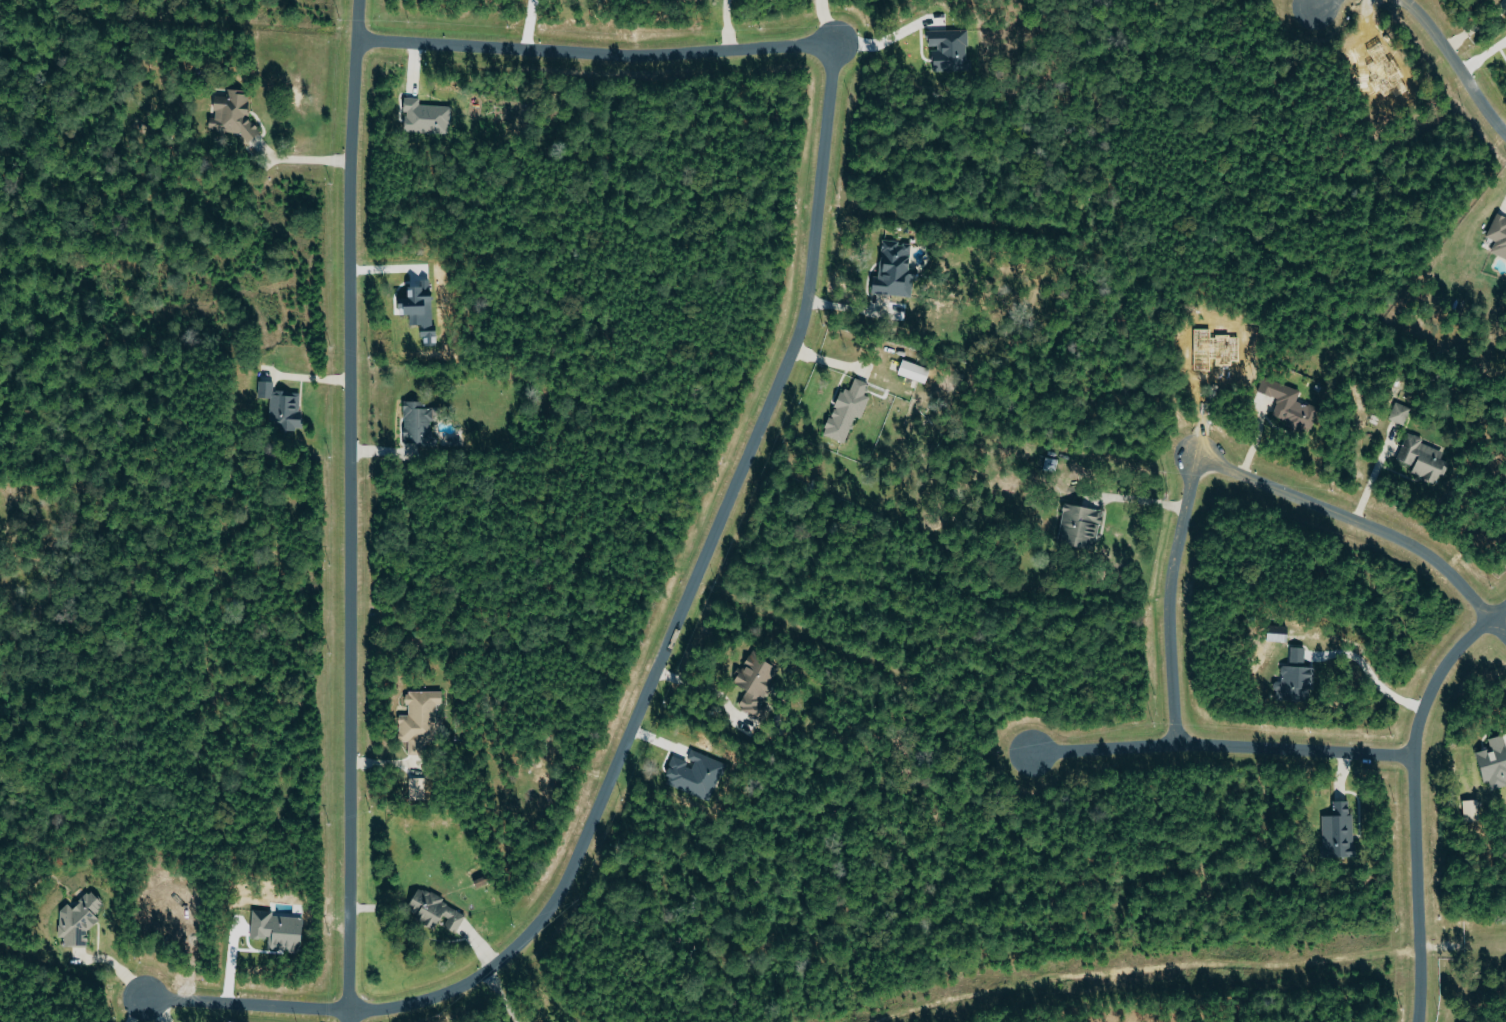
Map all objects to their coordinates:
road: (529, 25)
road: (871, 44)
building: (950, 48)
road: (585, 53)
road: (1456, 65)
building: (232, 114)
building: (423, 116)
road: (305, 158)
building: (1499, 234)
building: (893, 268)
building: (418, 311)
building: (914, 371)
building: (1289, 404)
building: (281, 406)
building: (847, 410)
building: (1399, 413)
building: (417, 421)
building: (1424, 458)
road: (1223, 469)
road: (1140, 500)
road: (347, 510)
building: (1075, 524)
road: (689, 596)
road: (1498, 628)
road: (1369, 672)
building: (1295, 678)
building: (756, 681)
road: (699, 684)
road: (1226, 747)
building: (1494, 761)
building: (695, 774)
building: (417, 788)
road: (1415, 798)
building: (1472, 811)
building: (1338, 830)
building: (436, 911)
building: (78, 918)
road: (502, 997)
road: (250, 1004)
road: (144, 1010)

